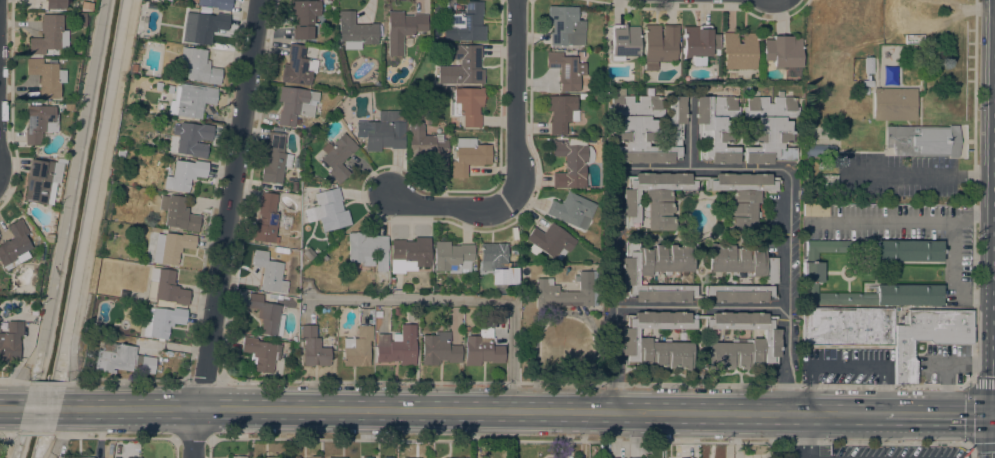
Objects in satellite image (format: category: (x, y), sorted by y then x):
building: (55, 4)
building: (217, 4)
building: (150, 5)
building: (304, 17)
building: (80, 19)
building: (467, 22)
building: (565, 25)
building: (202, 26)
building: (402, 29)
building: (356, 30)
building: (49, 35)
building: (624, 41)
building: (659, 44)
building: (697, 44)
building: (739, 50)
building: (785, 56)
building: (198, 65)
building: (868, 65)
building: (298, 66)
building: (463, 66)
building: (133, 67)
building: (566, 69)
building: (46, 76)
building: (889, 76)
building: (868, 81)
building: (157, 85)
building: (170, 86)
building: (865, 90)
building: (190, 100)
road: (517, 102)
building: (295, 104)
building: (894, 104)
building: (468, 105)
building: (562, 113)
building: (39, 122)
building: (645, 127)
building: (716, 128)
building: (769, 128)
building: (383, 130)
road: (689, 133)
building: (192, 138)
building: (923, 140)
building: (427, 146)
building: (818, 151)
building: (119, 152)
building: (468, 155)
building: (337, 156)
building: (275, 159)
building: (60, 160)
building: (571, 162)
road: (699, 166)
road: (921, 173)
building: (184, 174)
building: (41, 180)
road: (102, 188)
building: (741, 195)
building: (654, 197)
road: (448, 205)
building: (330, 209)
building: (572, 210)
building: (816, 210)
building: (178, 213)
building: (266, 218)
road: (887, 222)
road: (223, 229)
building: (47, 237)
building: (551, 240)
building: (14, 245)
building: (288, 245)
building: (294, 245)
building: (171, 246)
building: (282, 250)
building: (368, 250)
building: (908, 250)
building: (308, 253)
building: (409, 254)
road: (956, 254)
building: (126, 257)
building: (453, 257)
building: (495, 260)
building: (743, 261)
building: (269, 272)
building: (812, 272)
building: (638, 273)
building: (391, 280)
building: (166, 286)
building: (567, 291)
building: (740, 292)
building: (123, 293)
road: (463, 299)
building: (288, 300)
road: (699, 306)
building: (266, 314)
building: (378, 314)
building: (161, 321)
building: (847, 327)
building: (927, 336)
building: (638, 340)
building: (10, 341)
building: (743, 341)
building: (396, 345)
building: (482, 346)
building: (357, 347)
building: (314, 348)
building: (439, 348)
building: (261, 353)
building: (121, 358)
road: (846, 366)
road: (949, 368)
road: (122, 380)
road: (19, 381)
road: (204, 381)
road: (48, 382)
road: (596, 383)
road: (67, 392)
road: (10, 407)
road: (42, 408)
road: (337, 408)
road: (698, 412)
road: (834, 413)
road: (939, 414)
road: (969, 414)
road: (60, 431)
road: (12, 433)
road: (35, 433)
road: (807, 435)
road: (109, 436)
road: (191, 439)
road: (587, 441)
road: (970, 450)
road: (51, 456)
building: (294, 456)
building: (314, 456)
building: (77, 457)
building: (133, 457)
building: (238, 457)
building: (270, 457)
building: (303, 457)
building: (326, 457)
building: (336, 457)
building: (367, 457)
building: (376, 457)
building: (388, 457)
building: (608, 457)
building: (632, 457)
building: (684, 457)

